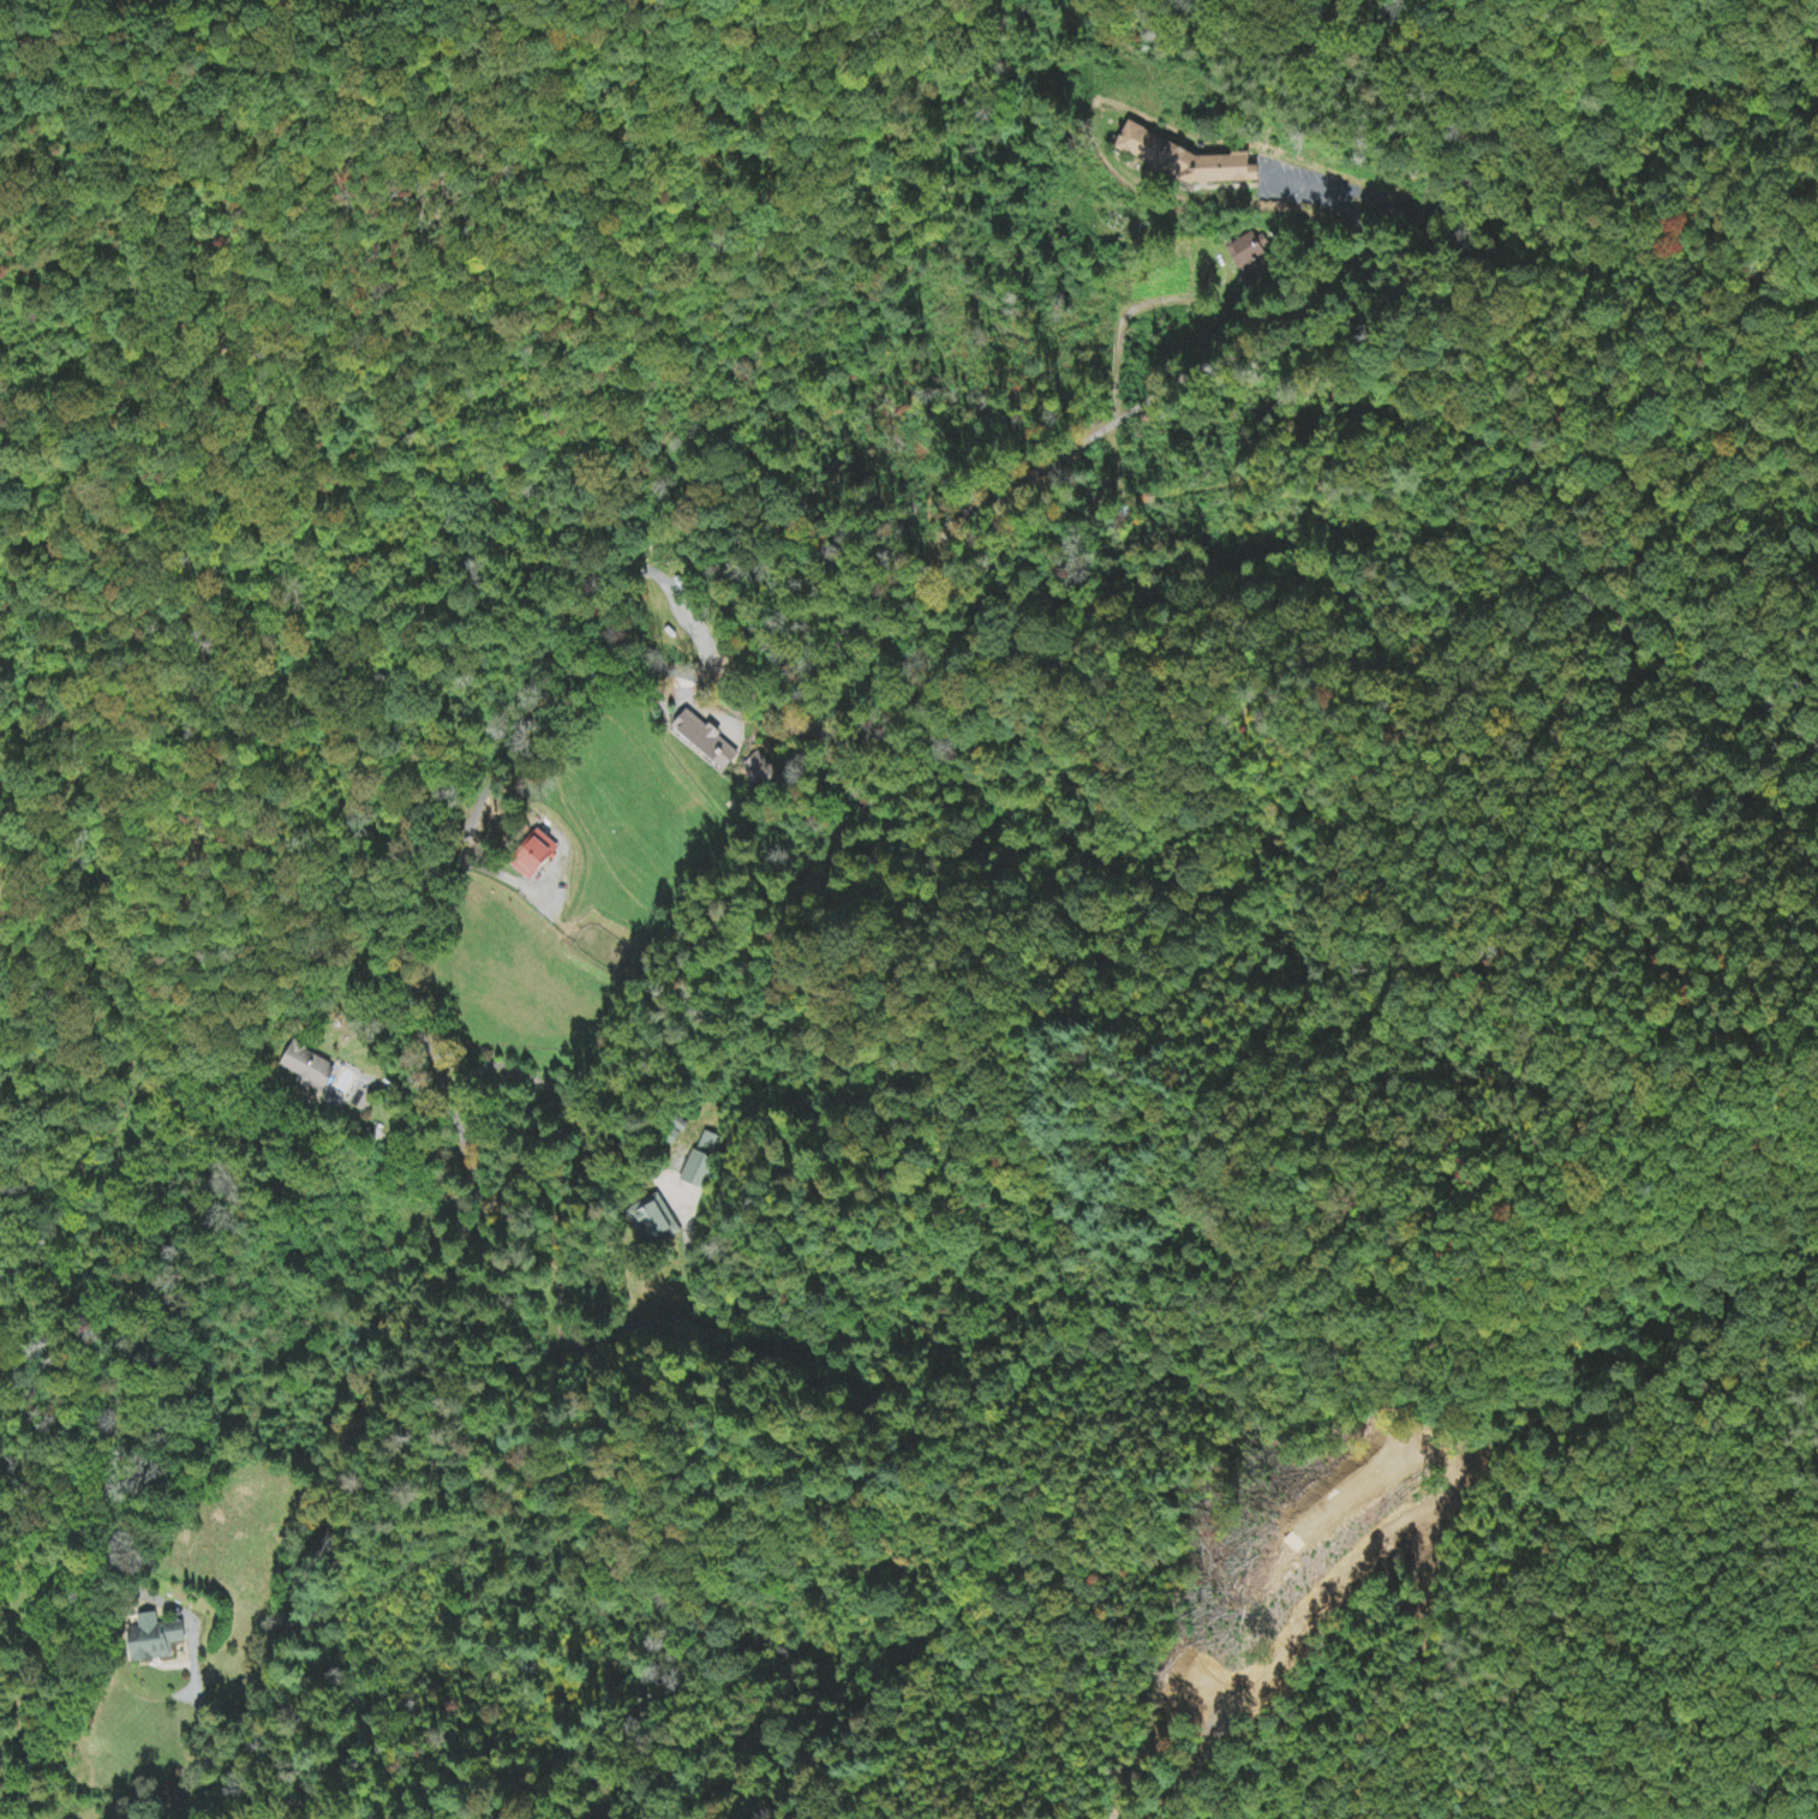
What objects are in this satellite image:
building: (1148, 146)
building: (1230, 174)
building: (1250, 261)
road: (544, 724)
building: (705, 742)
building: (760, 771)
building: (532, 857)
building: (306, 1069)
building: (702, 1160)
building: (652, 1220)
building: (154, 1639)

